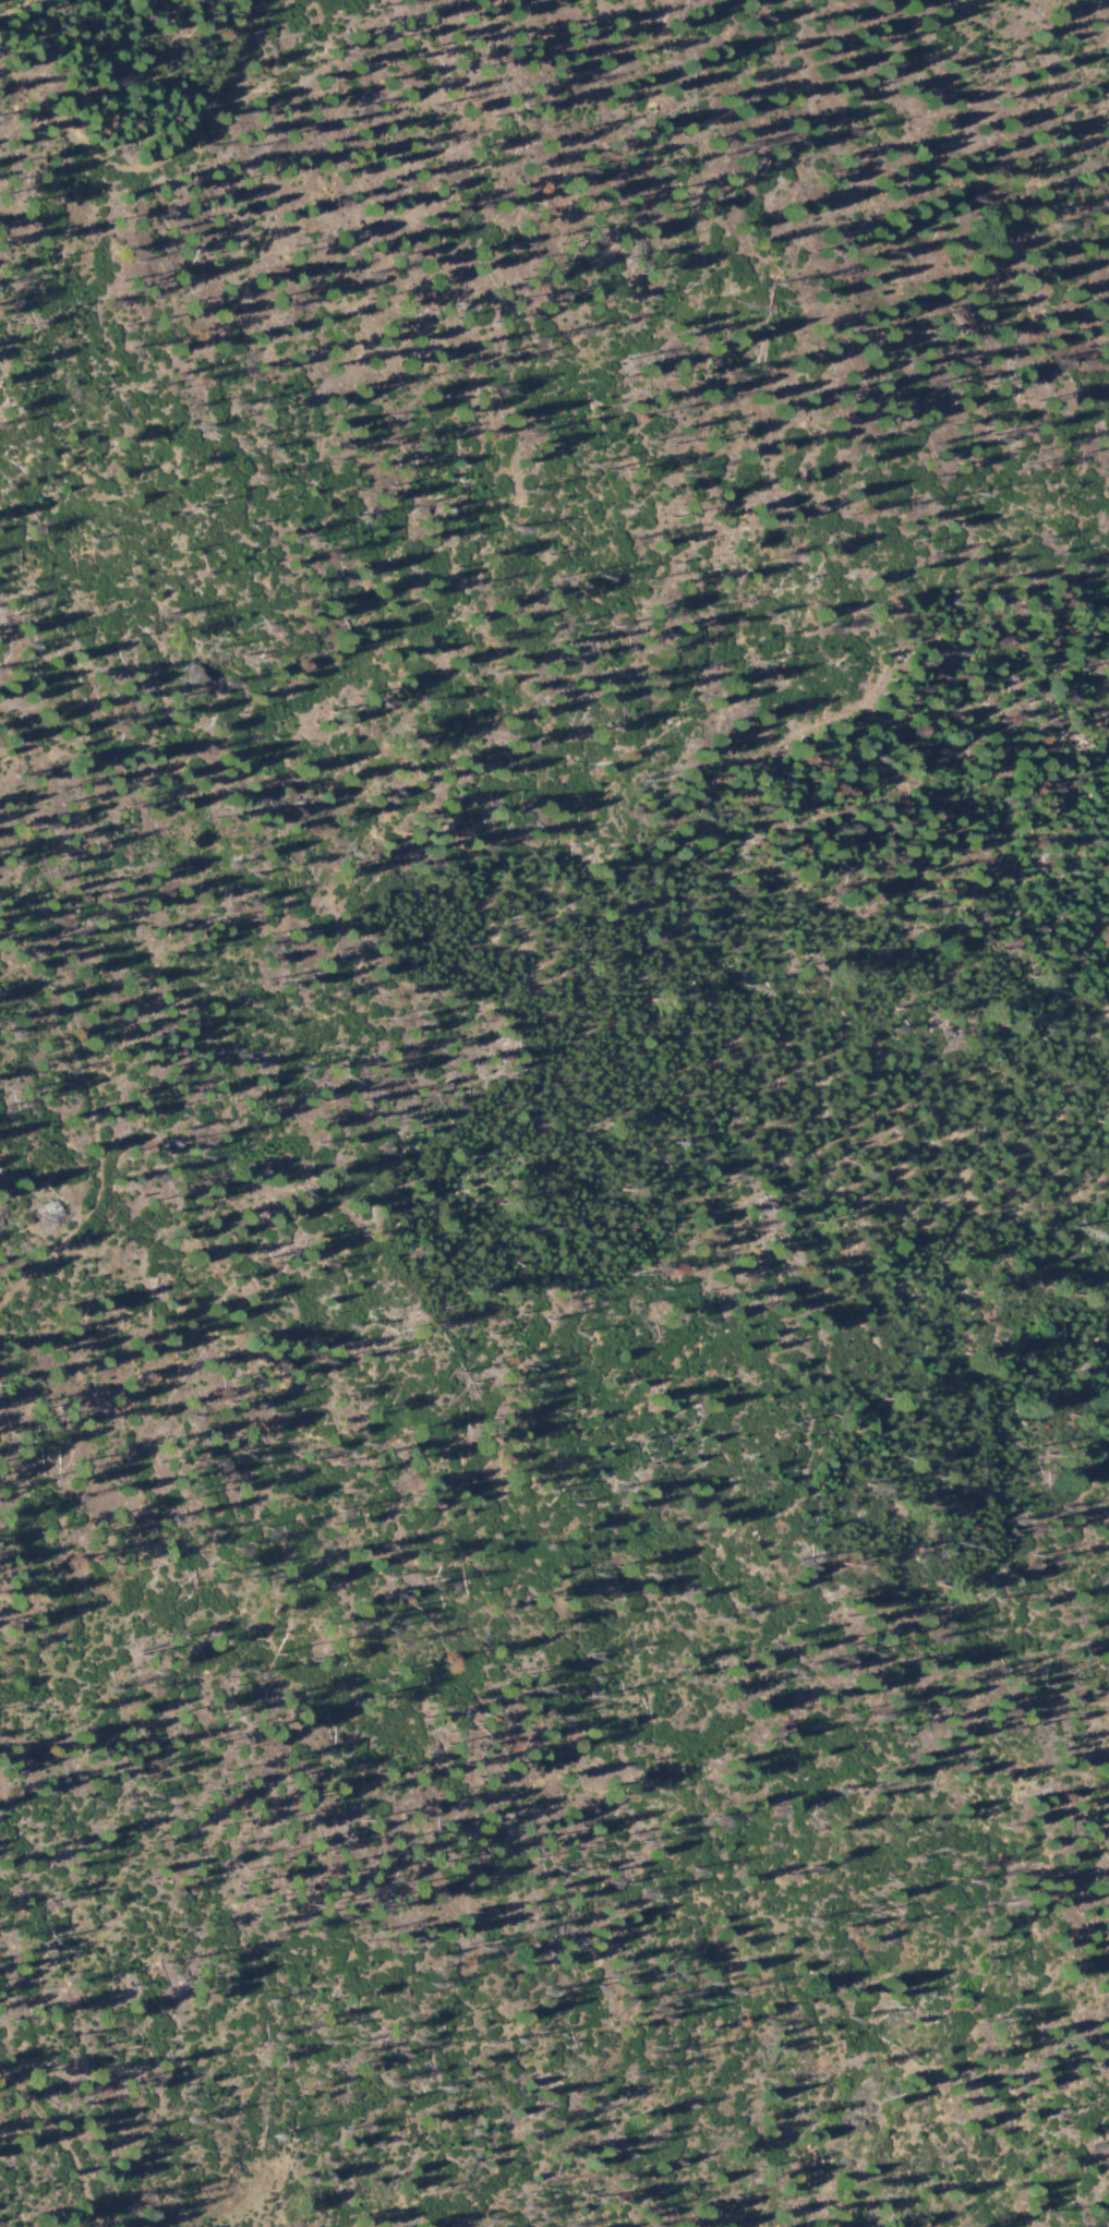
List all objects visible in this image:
road: (62, 49)
road: (133, 83)
road: (41, 1168)

